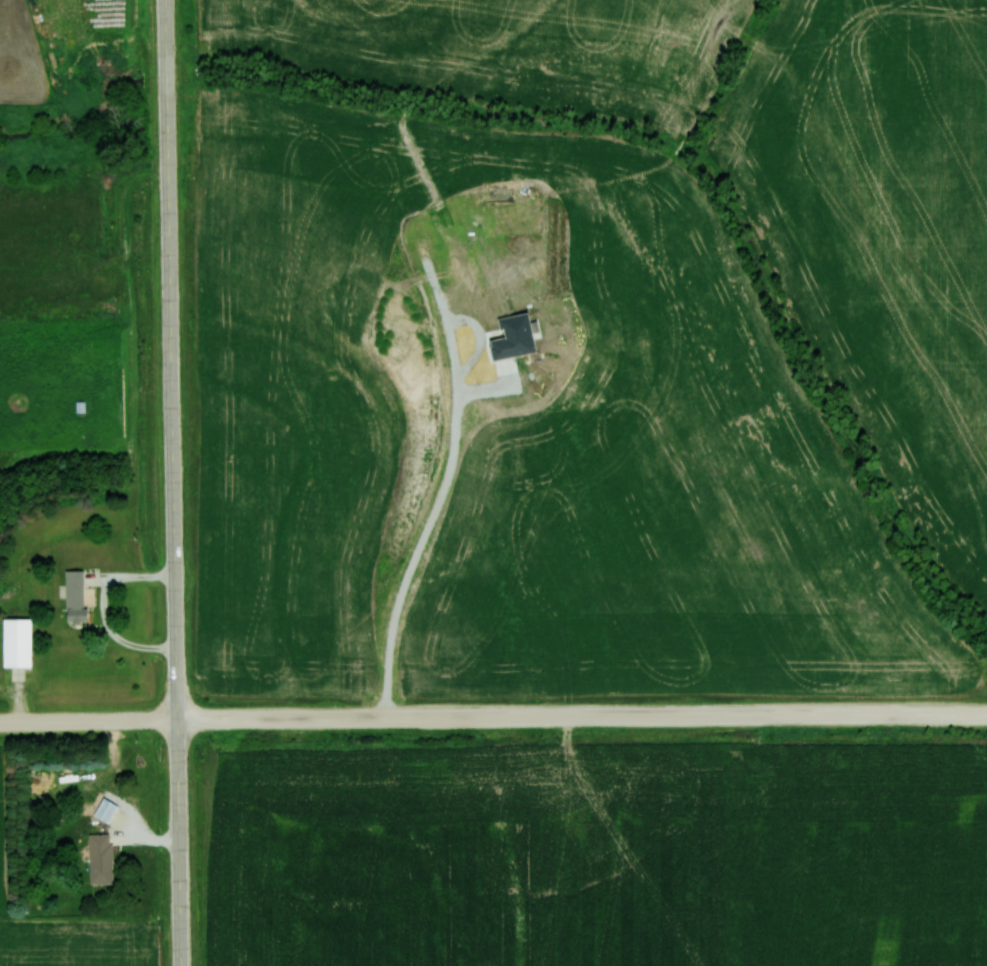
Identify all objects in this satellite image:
road: (173, 482)
building: (74, 595)
building: (14, 642)
road: (493, 716)
building: (104, 810)
building: (99, 858)

